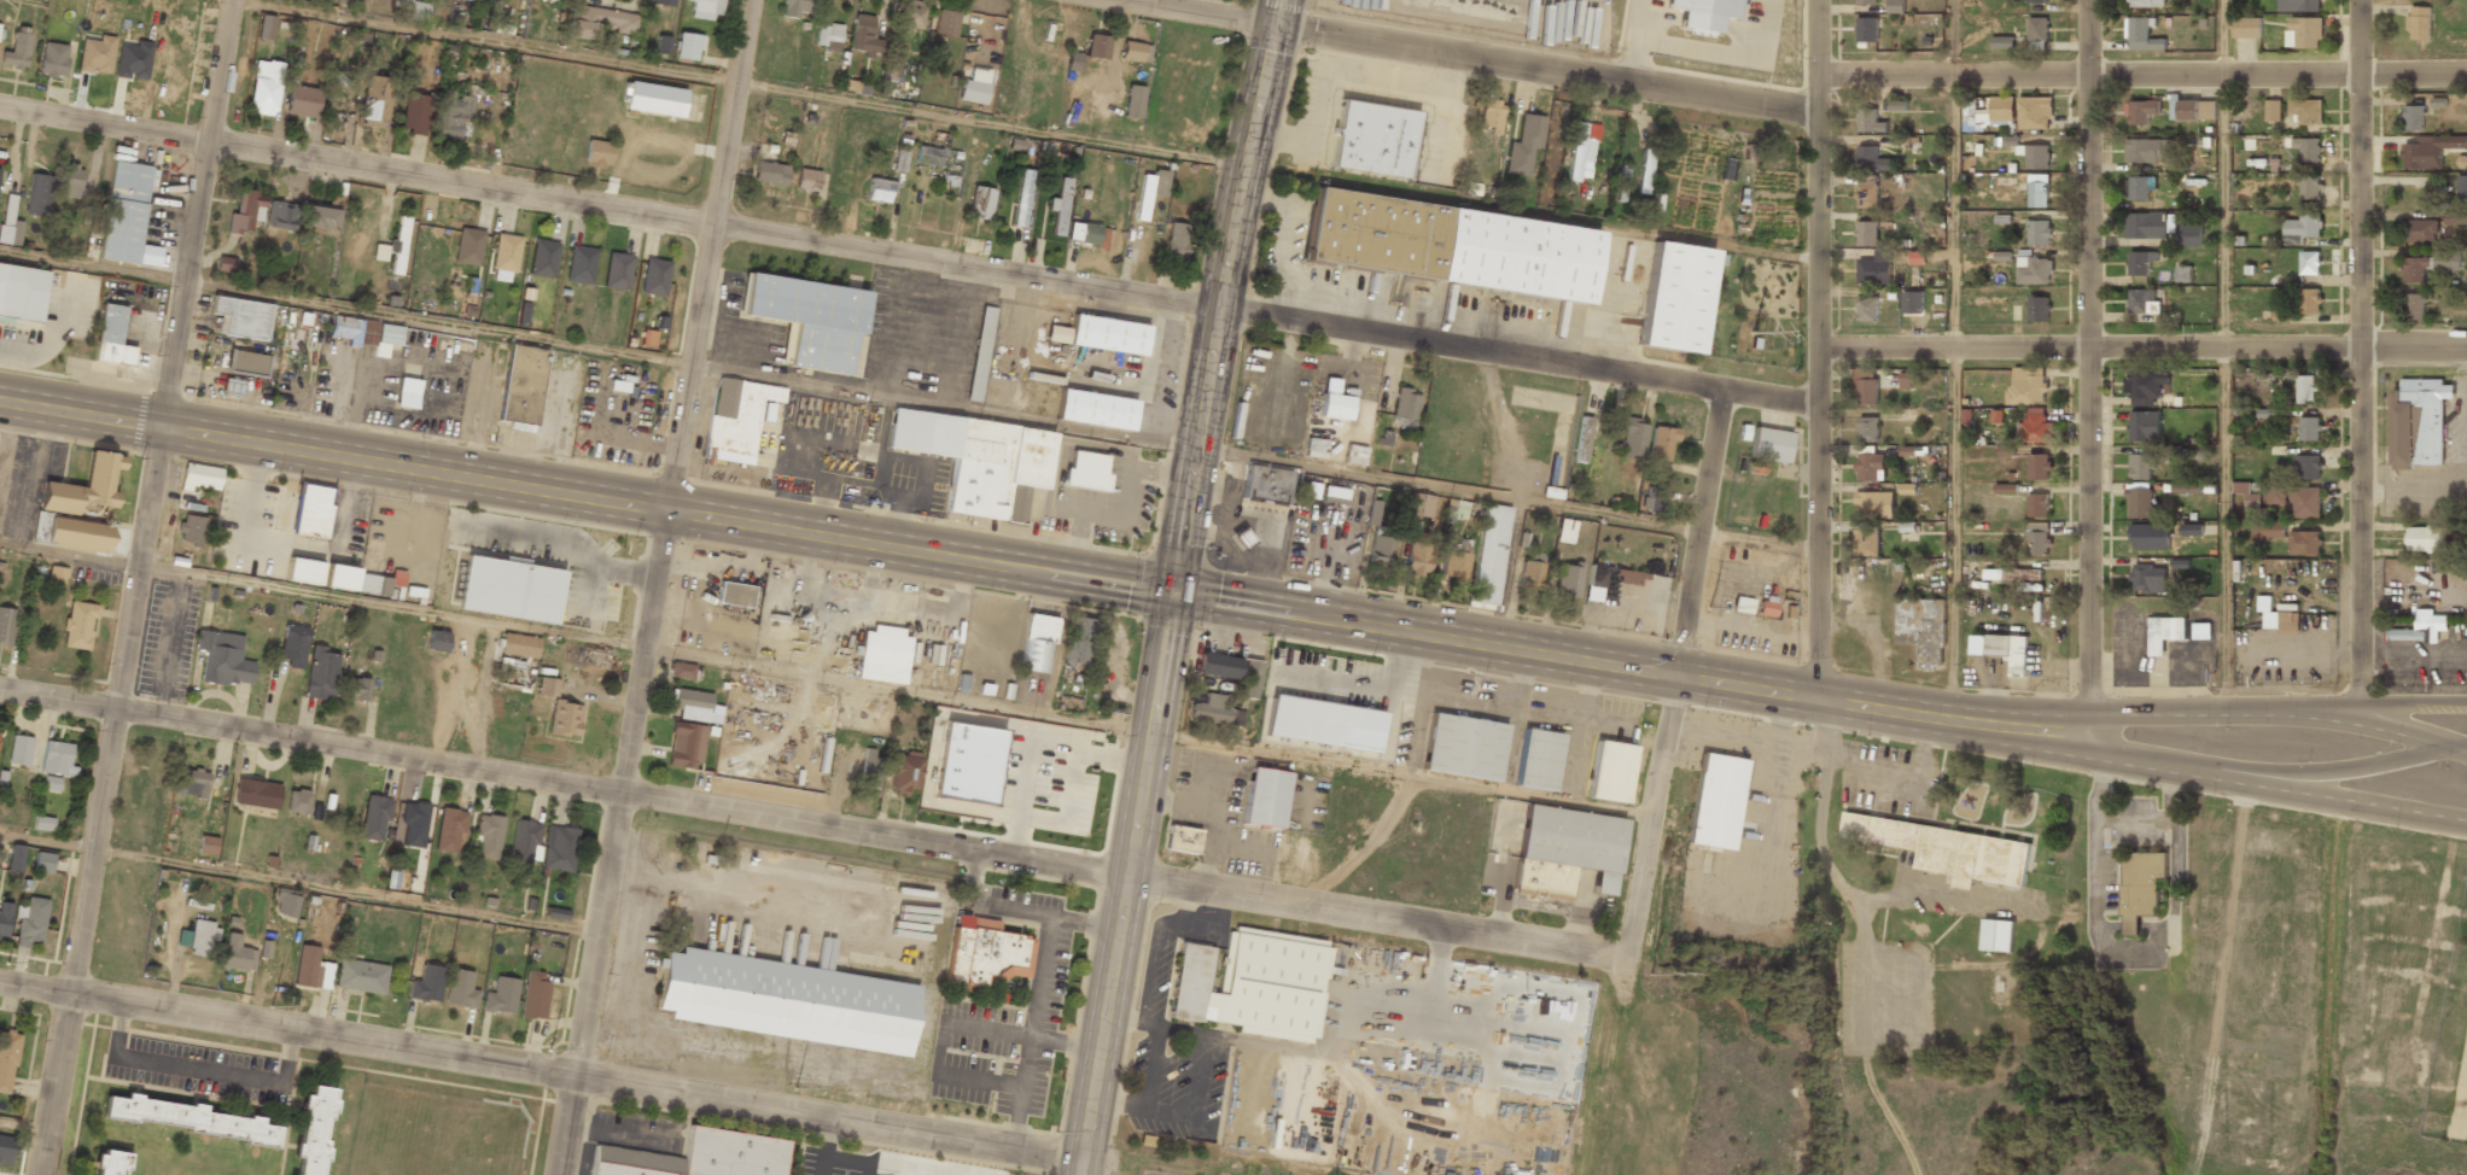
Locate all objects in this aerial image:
building: (474, 0)
building: (1867, 1)
building: (2037, 1)
building: (661, 2)
park: (1236, 2)
building: (2145, 4)
building: (2297, 5)
building: (1895, 6)
building: (799, 7)
building: (413, 8)
building: (706, 8)
building: (911, 13)
building: (1702, 14)
building: (599, 22)
building: (945, 23)
building: (2419, 23)
building: (0, 25)
traffic signals: (1275, 25)
building: (266, 27)
building: (2247, 27)
building: (1867, 29)
building: (2037, 30)
building: (2304, 33)
building: (2141, 34)
building: (864, 35)
building: (828, 36)
road: (1953, 37)
road: (2223, 37)
building: (2002, 42)
building: (663, 45)
building: (2037, 45)
building: (688, 46)
building: (1097, 46)
building: (17, 48)
building: (1135, 51)
building: (97, 54)
road: (1469, 57)
building: (53, 59)
building: (1072, 62)
road: (2142, 75)
road: (736, 80)
building: (974, 86)
building: (264, 87)
building: (654, 99)
building: (303, 101)
building: (375, 101)
building: (1132, 101)
building: (1897, 106)
building: (1993, 109)
building: (2193, 110)
building: (2273, 110)
building: (2141, 111)
building: (2305, 111)
building: (414, 112)
building: (2035, 113)
building: (450, 115)
building: (1489, 117)
building: (2413, 118)
building: (1870, 122)
building: (1372, 140)
building: (1522, 141)
building: (2306, 147)
building: (1580, 150)
building: (2430, 151)
building: (597, 152)
building: (2148, 152)
building: (927, 156)
building: (2036, 157)
building: (1871, 159)
building: (899, 160)
building: (769, 173)
building: (806, 180)
building: (70, 181)
building: (2309, 187)
building: (2462, 188)
building: (2139, 189)
building: (879, 191)
building: (1149, 191)
building: (39, 194)
building: (1867, 194)
building: (2037, 195)
building: (1022, 198)
building: (980, 203)
building: (1058, 207)
building: (246, 211)
road: (1955, 211)
road: (2223, 211)
building: (123, 212)
road: (1530, 212)
building: (281, 215)
building: (320, 217)
building: (2455, 217)
building: (10, 222)
building: (2146, 226)
building: (2302, 226)
building: (2420, 232)
building: (1083, 233)
building: (1867, 233)
building: (2039, 233)
building: (2191, 236)
building: (1176, 240)
building: (468, 246)
building: (1447, 246)
building: (393, 247)
building: (506, 257)
building: (543, 258)
road: (909, 258)
building: (2309, 263)
building: (226, 264)
building: (581, 264)
building: (2139, 265)
building: (2427, 265)
building: (1876, 268)
building: (617, 270)
building: (2034, 270)
building: (2183, 273)
building: (654, 277)
building: (22, 293)
building: (1673, 298)
building: (2309, 300)
building: (2141, 302)
building: (1911, 303)
road: (348, 306)
building: (2414, 308)
building: (2037, 309)
building: (1867, 310)
building: (523, 314)
building: (240, 316)
building: (807, 320)
power tower: (1943, 331)
power tower: (2212, 331)
power tower: (1751, 332)
building: (367, 333)
building: (1100, 335)
building: (111, 338)
road: (2142, 347)
road: (1819, 349)
road: (2360, 350)
building: (980, 355)
building: (244, 364)
road: (2089, 378)
building: (1907, 380)
building: (1866, 386)
building: (2028, 386)
building: (2144, 386)
building: (232, 387)
building: (521, 388)
building: (2305, 390)
building: (407, 393)
building: (1332, 401)
building: (1405, 407)
building: (1095, 410)
building: (765, 411)
building: (2426, 416)
building: (736, 419)
building: (2144, 426)
building: (2036, 428)
building: (1867, 429)
building: (2309, 429)
building: (1632, 437)
building: (1581, 439)
building: (1660, 444)
building: (1768, 445)
building: (1314, 448)
building: (1354, 455)
road: (1258, 456)
building: (979, 458)
building: (2039, 466)
building: (1868, 467)
building: (2141, 467)
building: (2306, 467)
building: (1085, 470)
building: (200, 478)
building: (1265, 485)
building: (84, 487)
building: (2006, 489)
building: (1311, 490)
building: (1334, 493)
building: (2276, 493)
building: (1652, 497)
building: (2252, 499)
building: (2141, 502)
building: (2305, 502)
building: (1873, 504)
building: (1419, 505)
building: (2037, 505)
building: (311, 511)
building: (2192, 530)
building: (2268, 530)
building: (189, 531)
building: (1565, 531)
road: (2224, 531)
road: (1954, 533)
building: (77, 536)
building: (1380, 536)
building: (2150, 536)
building: (1240, 538)
building: (2037, 539)
building: (2426, 539)
building: (2304, 542)
building: (1866, 544)
building: (1488, 555)
building: (1417, 557)
building: (1456, 560)
building: (2180, 563)
road: (1016, 567)
building: (303, 571)
building: (1528, 574)
building: (2013, 574)
building: (57, 575)
building: (1594, 575)
building: (340, 578)
building: (397, 578)
building: (2150, 579)
building: (1620, 580)
building: (1567, 581)
building: (373, 584)
road: (1172, 585)
road: (654, 586)
road: (139, 587)
building: (509, 590)
traffic signals: (1172, 592)
building: (733, 595)
power tower: (1708, 607)
building: (1763, 609)
building: (2288, 622)
building: (78, 624)
building: (6, 625)
building: (1923, 629)
building: (2421, 629)
building: (2201, 631)
building: (2165, 632)
road: (576, 635)
building: (437, 641)
building: (1078, 641)
building: (1037, 643)
building: (293, 645)
building: (519, 645)
building: (2004, 649)
building: (882, 655)
building: (587, 656)
building: (223, 659)
building: (1217, 666)
building: (681, 670)
building: (321, 673)
road: (1675, 674)
building: (1249, 679)
building: (547, 686)
building: (356, 689)
road: (2375, 700)
building: (695, 706)
building: (1214, 712)
road: (2158, 714)
building: (565, 719)
building: (1323, 724)
road: (2378, 727)
building: (686, 744)
building: (1463, 747)
building: (19, 750)
road: (2099, 756)
building: (57, 759)
building: (1536, 760)
building: (967, 764)
building: (870, 770)
building: (1609, 772)
building: (904, 773)
road: (2320, 773)
building: (51, 783)
building: (192, 784)
building: (256, 793)
road: (2319, 795)
building: (1264, 799)
building: (297, 801)
building: (1715, 801)
building: (375, 817)
road: (813, 820)
building: (43, 823)
building: (413, 823)
building: (449, 830)
building: (489, 835)
building: (1180, 840)
building: (525, 842)
building: (206, 844)
building: (559, 848)
building: (1947, 849)
building: (1564, 850)
building: (16, 858)
building: (43, 861)
road: (298, 882)
building: (2141, 889)
building: (286, 902)
building: (556, 913)
building: (30, 922)
building: (1997, 936)
building: (199, 939)
building: (987, 952)
building: (237, 954)
power tower: (6, 961)
building: (311, 969)
power tower: (1649, 975)
building: (361, 976)
building: (427, 983)
building: (1249, 984)
building: (461, 989)
building: (533, 994)
building: (501, 995)
building: (786, 1001)
power tower: (269, 1005)
power tower: (548, 1048)
building: (7, 1059)
road: (541, 1072)
power tower: (793, 1087)
building: (189, 1121)
road: (24, 1128)
building: (313, 1130)
power tower: (1055, 1132)
building: (6, 1148)
building: (694, 1157)
building: (110, 1163)

